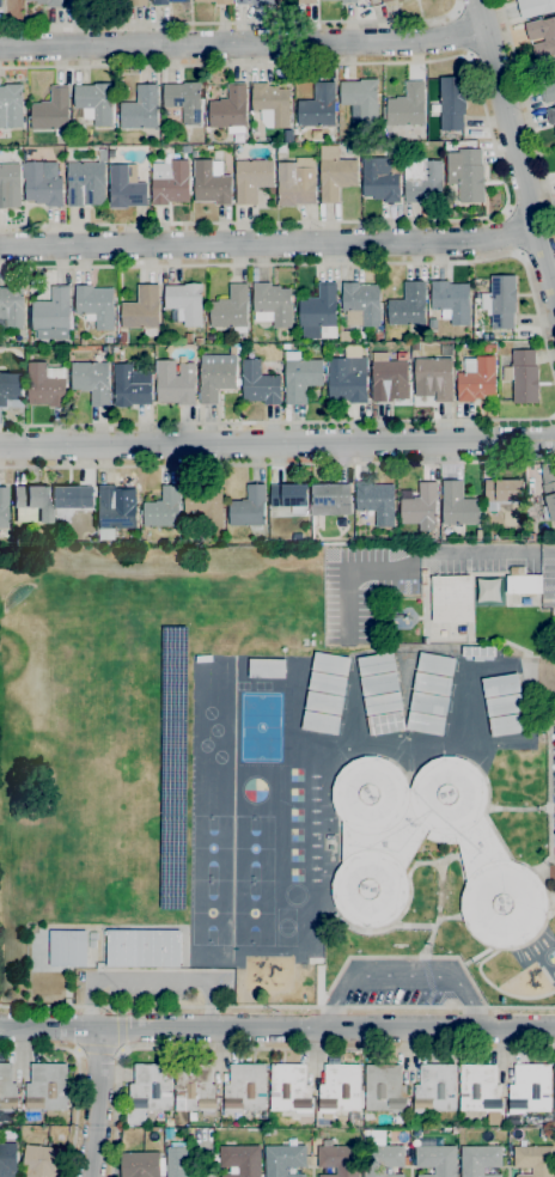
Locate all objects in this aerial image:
building: (339, 0)
building: (401, 0)
building: (166, 1)
building: (216, 1)
building: (254, 1)
building: (306, 1)
building: (349, 1)
building: (385, 1)
building: (49, 2)
building: (75, 2)
building: (136, 2)
building: (0, 4)
building: (535, 7)
road: (232, 23)
road: (461, 33)
building: (542, 36)
road: (243, 43)
building: (553, 68)
building: (548, 92)
building: (361, 97)
building: (184, 100)
building: (94, 102)
building: (272, 103)
building: (452, 103)
building: (11, 105)
building: (407, 105)
building: (318, 106)
building: (140, 108)
building: (230, 108)
road: (526, 109)
building: (51, 111)
building: (550, 116)
building: (365, 146)
building: (352, 148)
road: (516, 150)
road: (494, 151)
building: (103, 155)
building: (335, 172)
building: (466, 173)
building: (252, 178)
building: (382, 178)
building: (422, 178)
building: (170, 182)
building: (212, 182)
building: (86, 184)
building: (295, 184)
building: (10, 185)
building: (42, 185)
building: (126, 187)
road: (511, 231)
road: (268, 243)
road: (325, 263)
building: (451, 300)
building: (500, 301)
building: (185, 303)
building: (272, 304)
building: (361, 304)
building: (12, 305)
building: (96, 305)
building: (231, 309)
building: (409, 309)
building: (142, 310)
building: (319, 313)
building: (51, 316)
building: (340, 328)
building: (344, 335)
building: (378, 335)
building: (211, 336)
building: (122, 337)
building: (109, 339)
building: (199, 341)
building: (321, 344)
building: (285, 346)
building: (490, 348)
building: (232, 349)
building: (402, 355)
building: (523, 376)
building: (300, 377)
building: (389, 378)
building: (434, 378)
building: (476, 379)
building: (92, 380)
building: (215, 380)
building: (347, 380)
building: (176, 383)
building: (260, 383)
building: (47, 384)
building: (10, 385)
building: (132, 385)
road: (277, 421)
road: (277, 443)
road: (277, 465)
building: (501, 492)
building: (74, 496)
building: (289, 496)
building: (329, 499)
building: (376, 501)
building: (549, 501)
building: (31, 504)
building: (205, 504)
building: (4, 507)
building: (249, 507)
building: (458, 507)
building: (163, 508)
building: (421, 508)
building: (115, 511)
building: (541, 513)
building: (43, 538)
road: (494, 553)
road: (547, 554)
building: (513, 571)
building: (423, 577)
building: (524, 584)
building: (451, 599)
building: (526, 600)
building: (478, 652)
building: (330, 663)
building: (376, 663)
building: (435, 664)
building: (267, 667)
building: (327, 682)
building: (379, 683)
building: (432, 684)
building: (501, 685)
building: (324, 703)
building: (383, 703)
building: (428, 703)
building: (505, 705)
building: (321, 722)
building: (386, 722)
building: (425, 722)
building: (507, 725)
building: (172, 768)
park: (209, 847)
park: (251, 848)
building: (378, 852)
park: (209, 911)
park: (251, 911)
park: (283, 926)
building: (91, 944)
building: (142, 947)
flagpole: (438, 947)
building: (68, 949)
road: (401, 977)
road: (147, 978)
road: (276, 1006)
road: (118, 1027)
road: (277, 1027)
road: (275, 1047)
road: (98, 1050)
road: (77, 1077)
building: (47, 1087)
building: (195, 1087)
building: (384, 1087)
building: (554, 1087)
building: (7, 1088)
building: (245, 1088)
building: (289, 1088)
building: (340, 1088)
building: (435, 1088)
building: (480, 1088)
building: (530, 1088)
building: (148, 1091)
road: (96, 1102)
building: (353, 1117)
building: (547, 1120)
building: (7, 1159)
building: (177, 1159)
building: (240, 1159)
building: (337, 1159)
building: (437, 1159)
building: (43, 1160)
building: (283, 1160)
building: (382, 1160)
building: (480, 1160)
building: (535, 1160)
building: (142, 1164)

